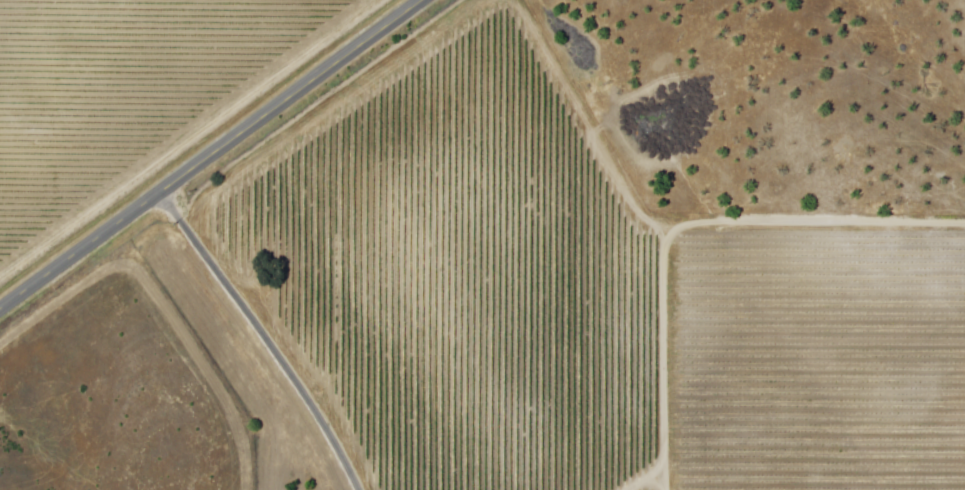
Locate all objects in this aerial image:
road: (209, 153)
road: (265, 335)

